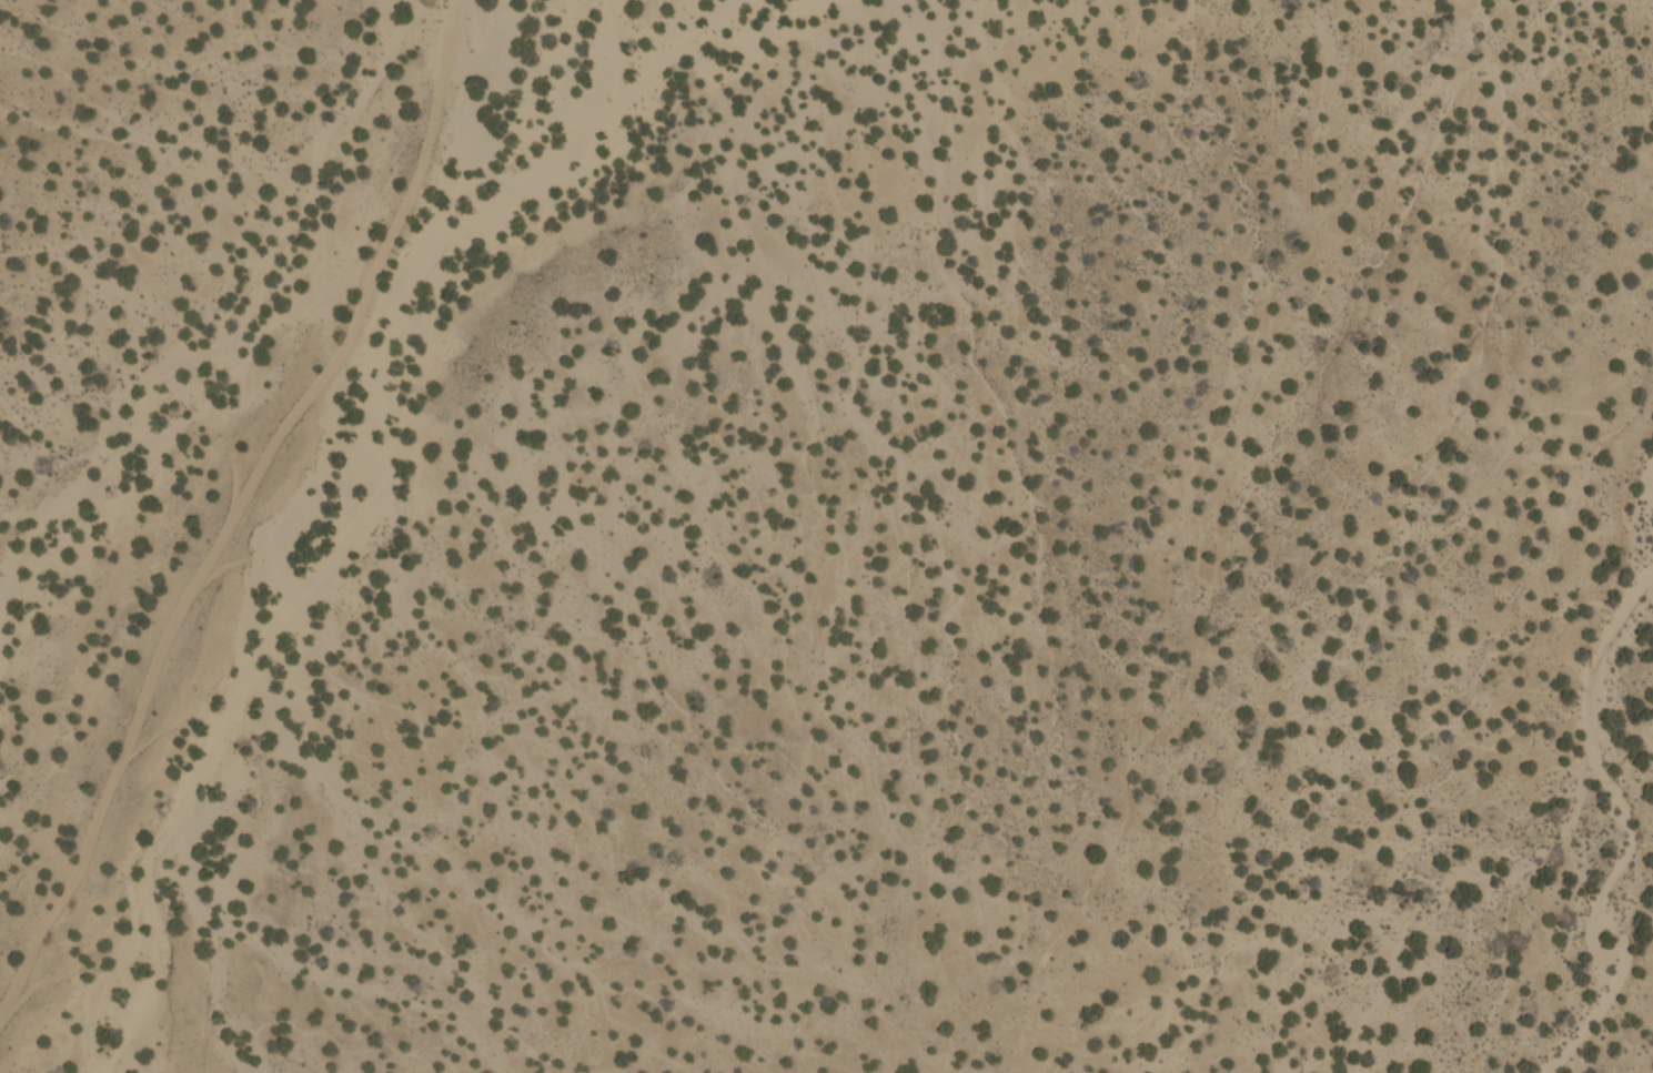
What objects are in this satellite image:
road: (234, 508)

